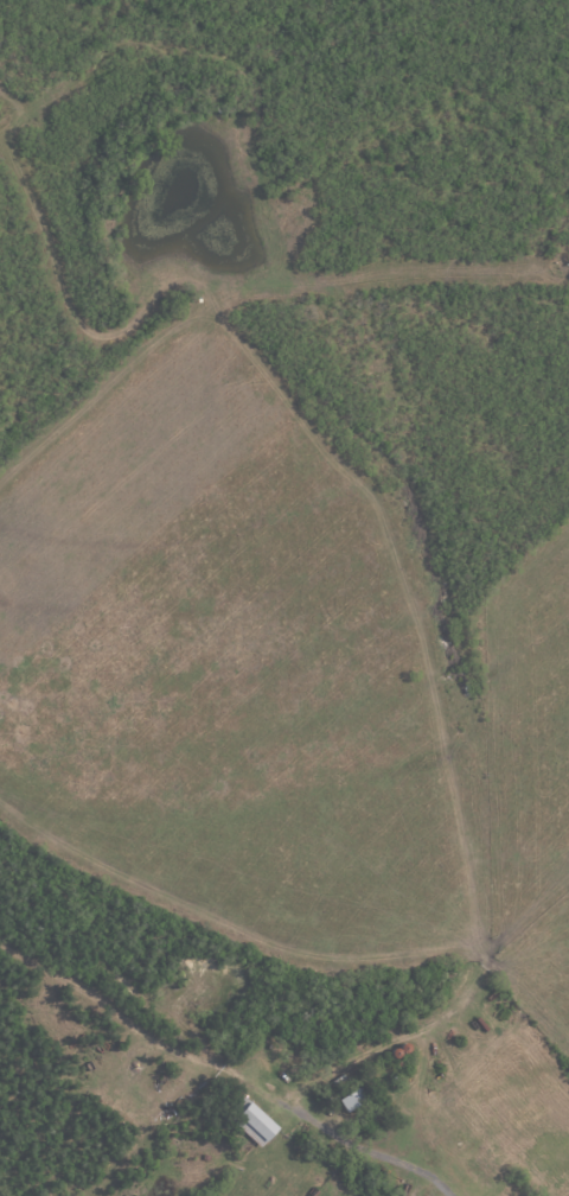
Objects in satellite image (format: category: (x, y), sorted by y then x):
building: (356, 1099)
road: (369, 1152)

